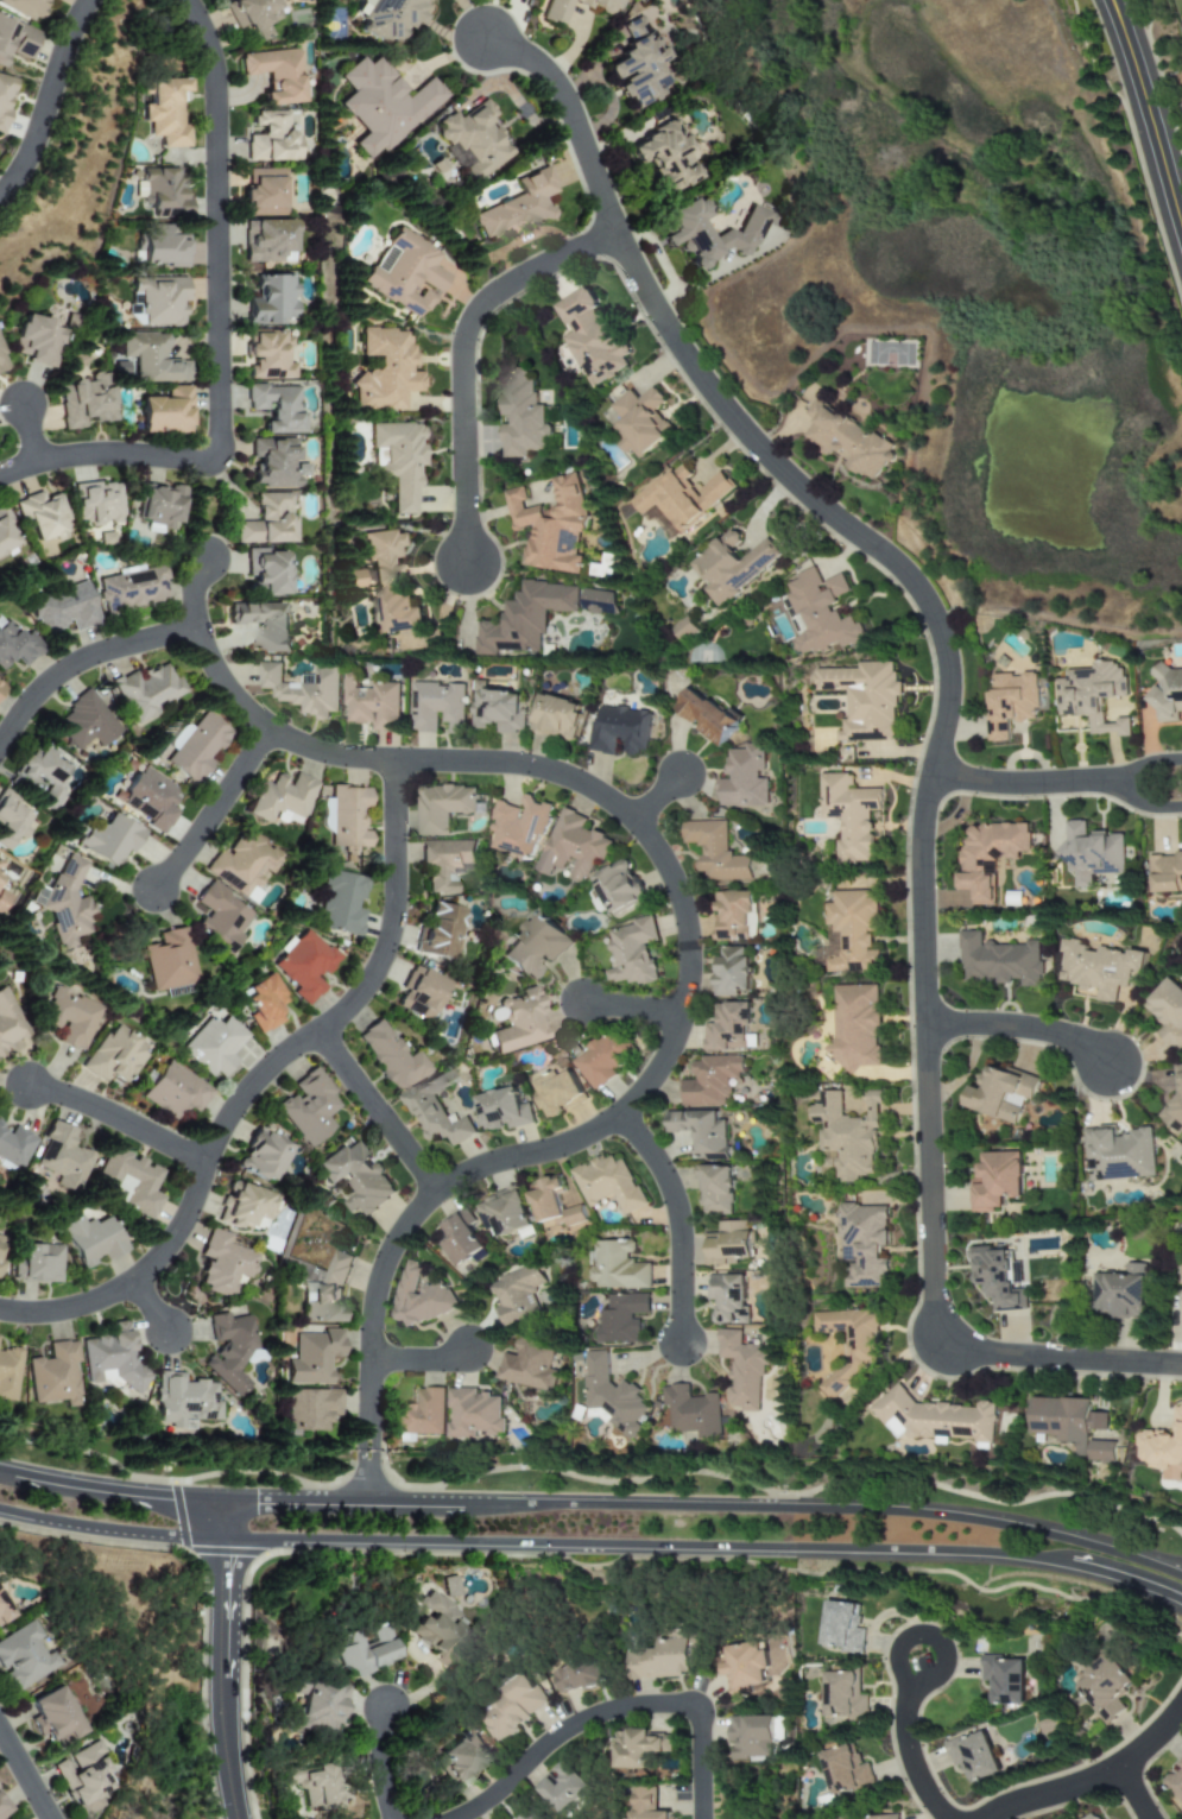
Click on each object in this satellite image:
building: (24, 7)
building: (554, 11)
building: (252, 15)
building: (387, 17)
road: (469, 19)
building: (15, 39)
road: (1086, 53)
building: (636, 65)
building: (273, 74)
building: (4, 99)
fountain: (18, 99)
road: (50, 101)
building: (381, 105)
road: (1152, 106)
building: (165, 112)
building: (272, 138)
building: (469, 140)
building: (663, 157)
building: (160, 189)
building: (265, 192)
building: (516, 207)
road: (220, 226)
building: (682, 236)
building: (268, 241)
building: (162, 246)
building: (405, 273)
building: (157, 301)
building: (273, 301)
building: (593, 337)
building: (34, 341)
building: (270, 355)
road: (464, 355)
building: (152, 358)
building: (1, 364)
building: (385, 371)
building: (86, 402)
building: (278, 408)
building: (165, 412)
building: (522, 415)
building: (643, 422)
road: (32, 436)
building: (849, 441)
road: (108, 455)
building: (398, 461)
building: (276, 463)
building: (684, 497)
building: (96, 503)
building: (158, 506)
building: (40, 516)
building: (270, 520)
building: (554, 526)
building: (6, 535)
building: (734, 566)
building: (267, 571)
building: (385, 583)
building: (131, 589)
building: (601, 602)
building: (63, 608)
building: (821, 613)
building: (527, 618)
building: (263, 624)
building: (688, 629)
building: (15, 645)
road: (81, 664)
building: (0, 687)
building: (303, 689)
building: (145, 690)
building: (1169, 694)
building: (1094, 695)
building: (865, 700)
building: (1012, 703)
building: (374, 705)
building: (440, 707)
building: (501, 709)
building: (709, 716)
building: (561, 718)
building: (86, 721)
road: (943, 724)
building: (622, 730)
building: (197, 749)
road: (522, 763)
road: (1151, 769)
building: (43, 775)
building: (746, 779)
road: (1028, 785)
road: (657, 791)
building: (148, 798)
building: (283, 800)
road: (1151, 803)
building: (444, 807)
road: (215, 814)
building: (324, 814)
building: (851, 815)
building: (348, 816)
building: (13, 821)
building: (522, 827)
building: (107, 840)
building: (575, 846)
building: (718, 851)
building: (1091, 853)
building: (990, 857)
building: (445, 863)
building: (0, 867)
building: (1167, 872)
building: (620, 888)
building: (1, 898)
building: (340, 903)
building: (63, 904)
building: (734, 915)
building: (219, 918)
building: (440, 931)
building: (854, 931)
building: (536, 947)
building: (634, 953)
building: (1000, 960)
building: (166, 961)
building: (303, 965)
road: (392, 968)
building: (1101, 969)
building: (734, 971)
building: (421, 993)
building: (264, 1003)
road: (632, 1009)
building: (1169, 1011)
building: (67, 1018)
building: (517, 1022)
building: (7, 1023)
building: (859, 1025)
road: (1020, 1027)
building: (729, 1028)
building: (213, 1046)
building: (113, 1057)
building: (391, 1057)
building: (602, 1060)
building: (710, 1081)
road: (257, 1082)
building: (175, 1092)
building: (557, 1093)
building: (1001, 1093)
building: (308, 1107)
building: (1174, 1107)
building: (505, 1110)
building: (436, 1111)
road: (375, 1112)
road: (120, 1118)
building: (702, 1132)
building: (851, 1136)
building: (13, 1147)
building: (1119, 1154)
building: (261, 1155)
building: (62, 1157)
building: (358, 1177)
building: (129, 1181)
building: (998, 1181)
building: (611, 1183)
building: (716, 1189)
building: (242, 1206)
building: (555, 1206)
building: (508, 1213)
road: (678, 1220)
road: (396, 1238)
building: (461, 1238)
building: (90, 1240)
building: (865, 1244)
building: (1, 1245)
building: (221, 1263)
building: (36, 1264)
building: (620, 1267)
building: (998, 1280)
building: (1123, 1291)
building: (328, 1293)
building: (423, 1294)
building: (519, 1295)
building: (729, 1299)
road: (152, 1309)
building: (626, 1319)
building: (851, 1350)
building: (228, 1351)
building: (109, 1357)
building: (312, 1357)
road: (419, 1358)
building: (531, 1365)
building: (745, 1369)
building: (7, 1373)
building: (52, 1375)
building: (615, 1396)
building: (181, 1401)
building: (310, 1409)
building: (695, 1411)
building: (475, 1413)
building: (421, 1414)
building: (936, 1419)
building: (1073, 1426)
building: (1162, 1447)
road: (113, 1486)
road: (709, 1505)
road: (229, 1520)
road: (113, 1535)
road: (708, 1553)
building: (451, 1586)
building: (4, 1611)
building: (441, 1628)
building: (839, 1629)
building: (365, 1650)
building: (24, 1657)
building: (664, 1660)
building: (741, 1667)
building: (582, 1676)
road: (229, 1681)
building: (1000, 1682)
building: (1101, 1687)
building: (841, 1698)
building: (320, 1705)
building: (517, 1707)
road: (614, 1709)
building: (53, 1717)
building: (750, 1738)
road: (910, 1743)
building: (640, 1748)
building: (461, 1756)
building: (972, 1757)
road: (384, 1763)
road: (27, 1773)
building: (842, 1773)
building: (84, 1779)
building: (1174, 1782)
road: (1091, 1783)
building: (312, 1786)
building: (568, 1788)
road: (1134, 1794)
building: (643, 1805)
building: (4, 1808)
building: (527, 1815)
building: (1094, 1817)
building: (876, 1818)

